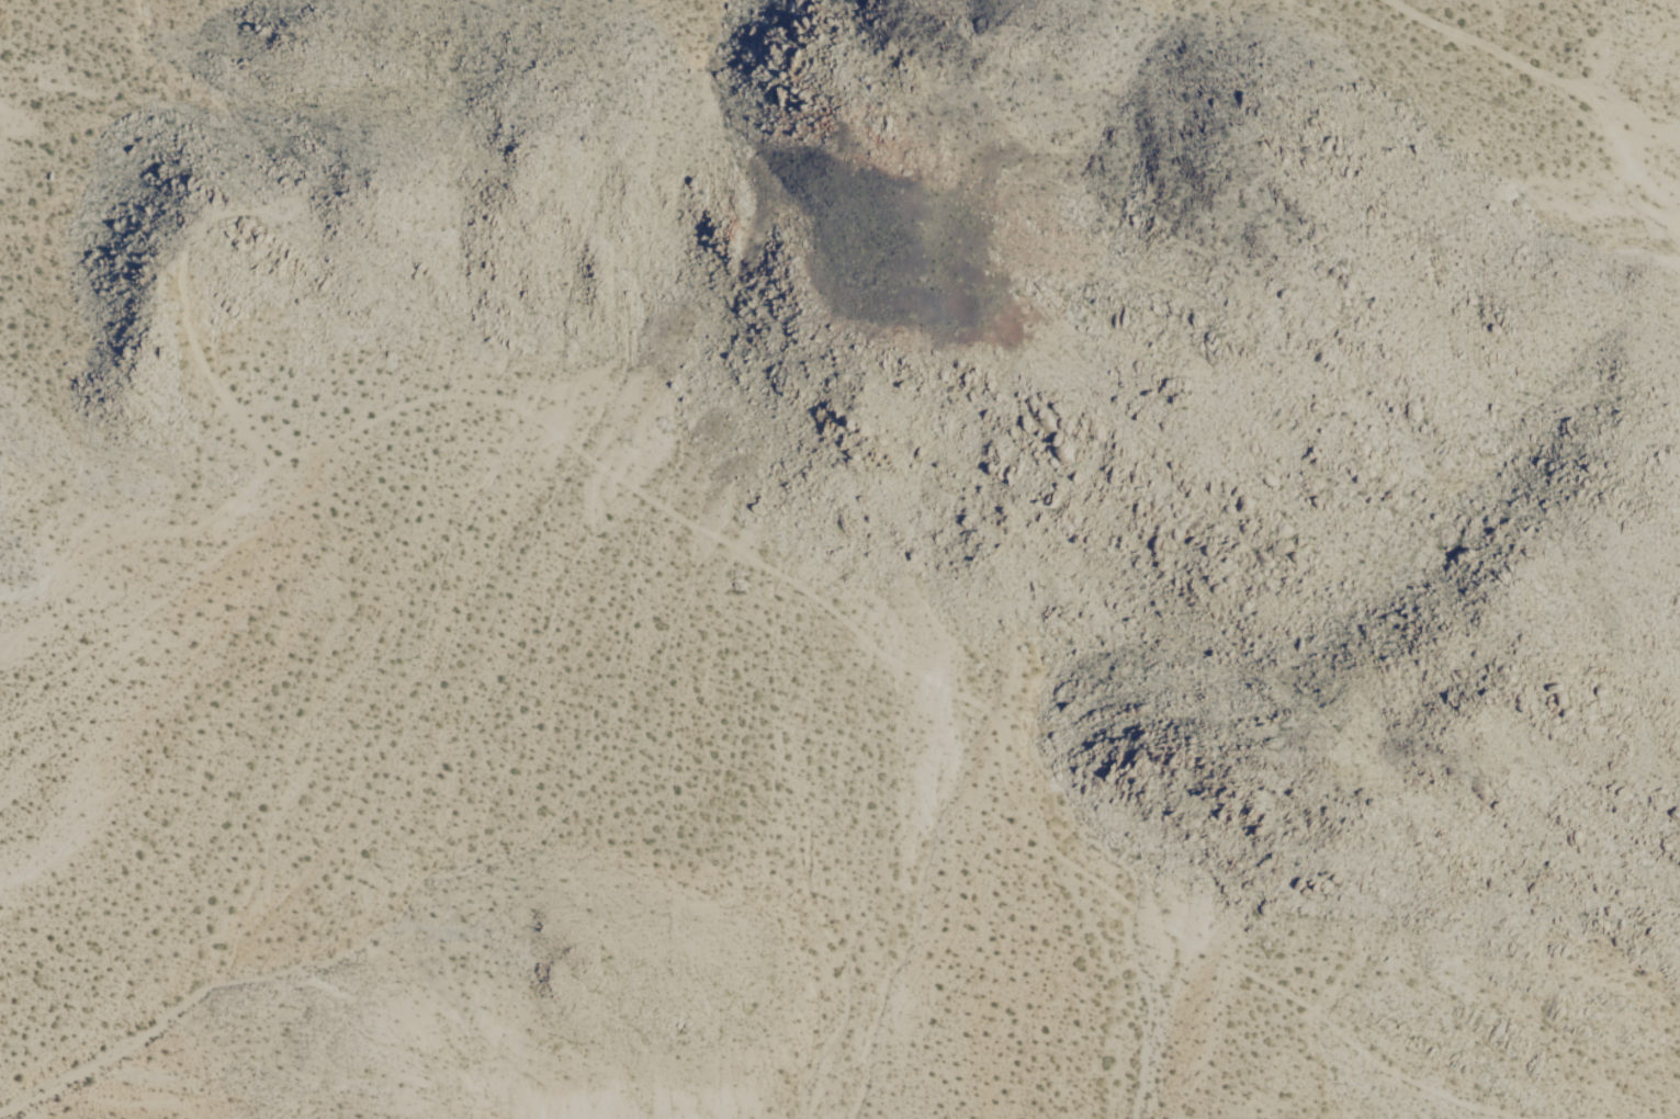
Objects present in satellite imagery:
road: (1577, 75)

